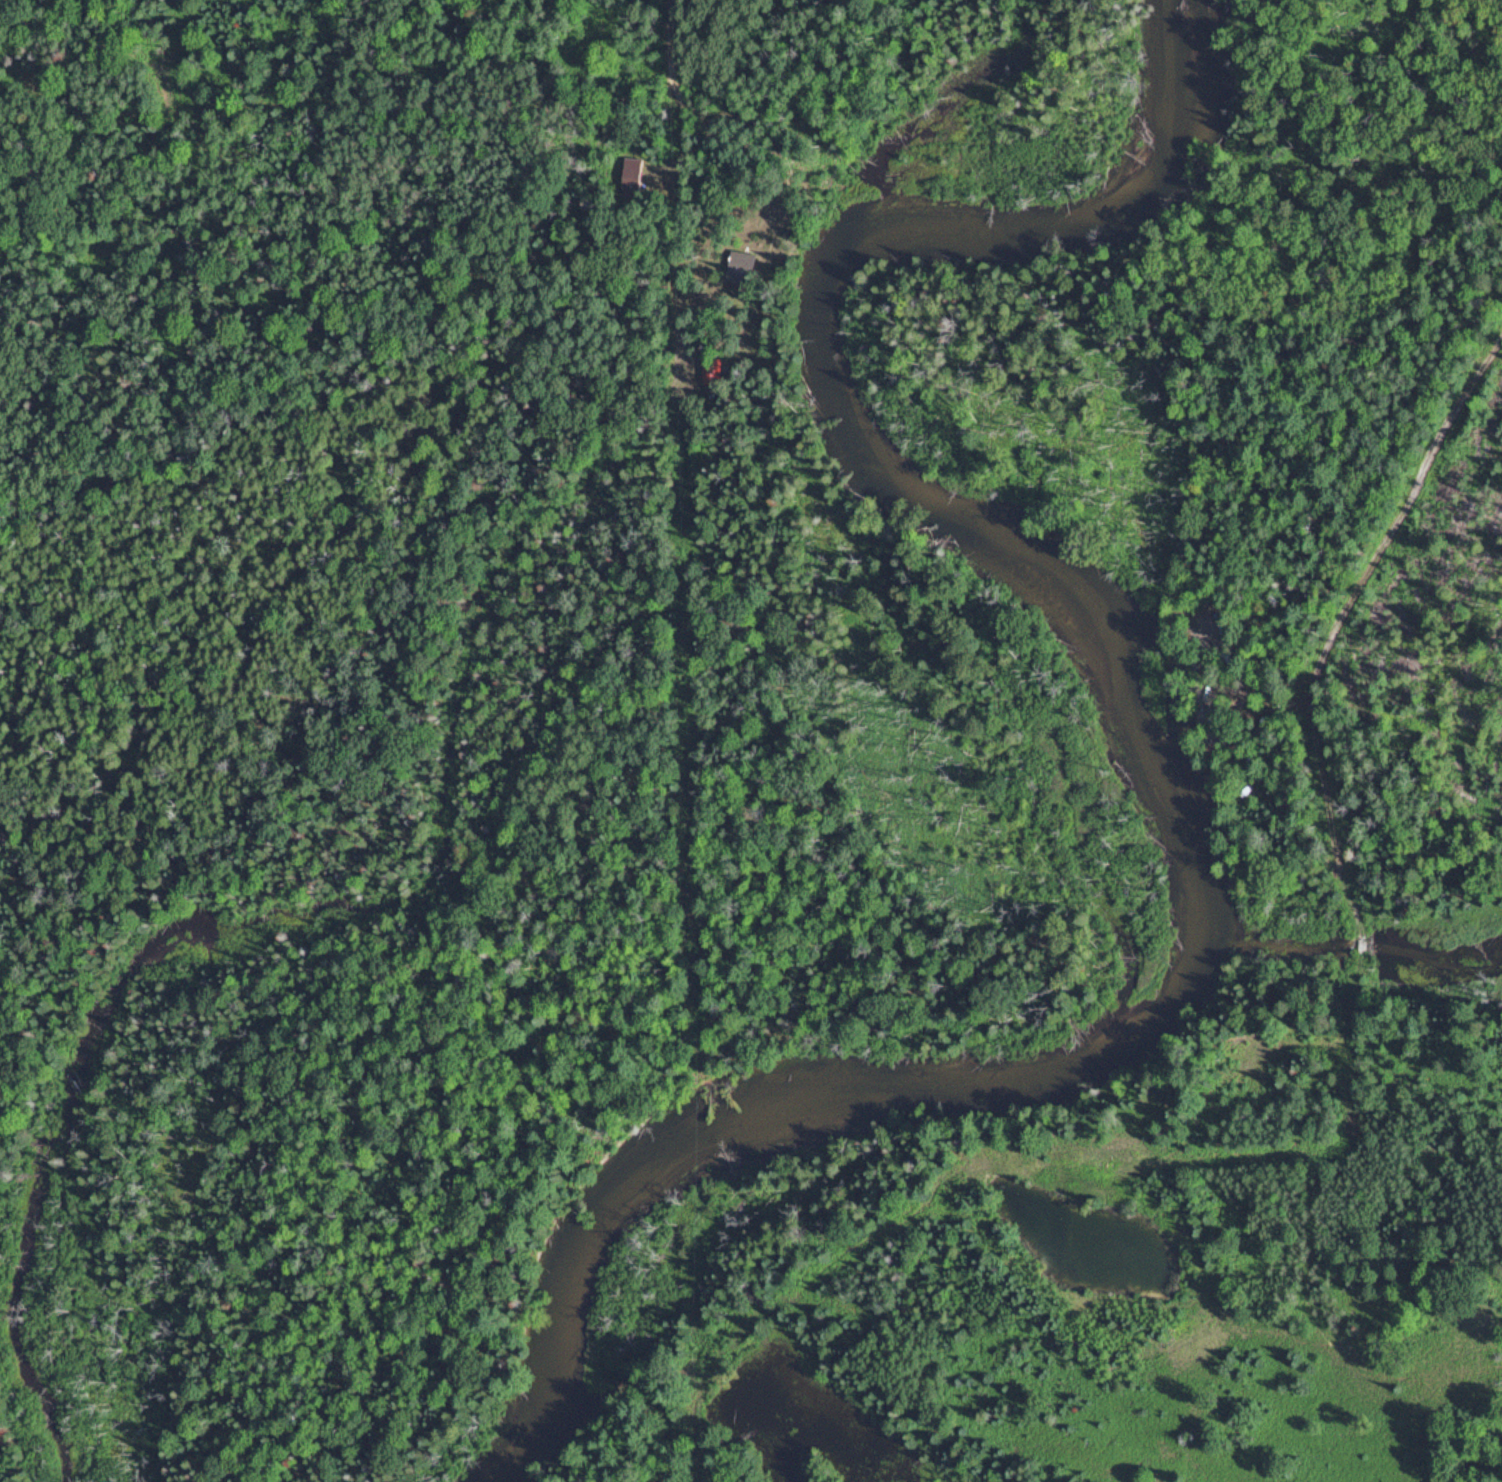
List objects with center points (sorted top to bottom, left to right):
road: (674, 70)
building: (634, 176)
road: (780, 217)
building: (743, 267)
building: (714, 375)
road: (1215, 523)
river: (1152, 757)
road: (1362, 944)
road: (1275, 1127)

